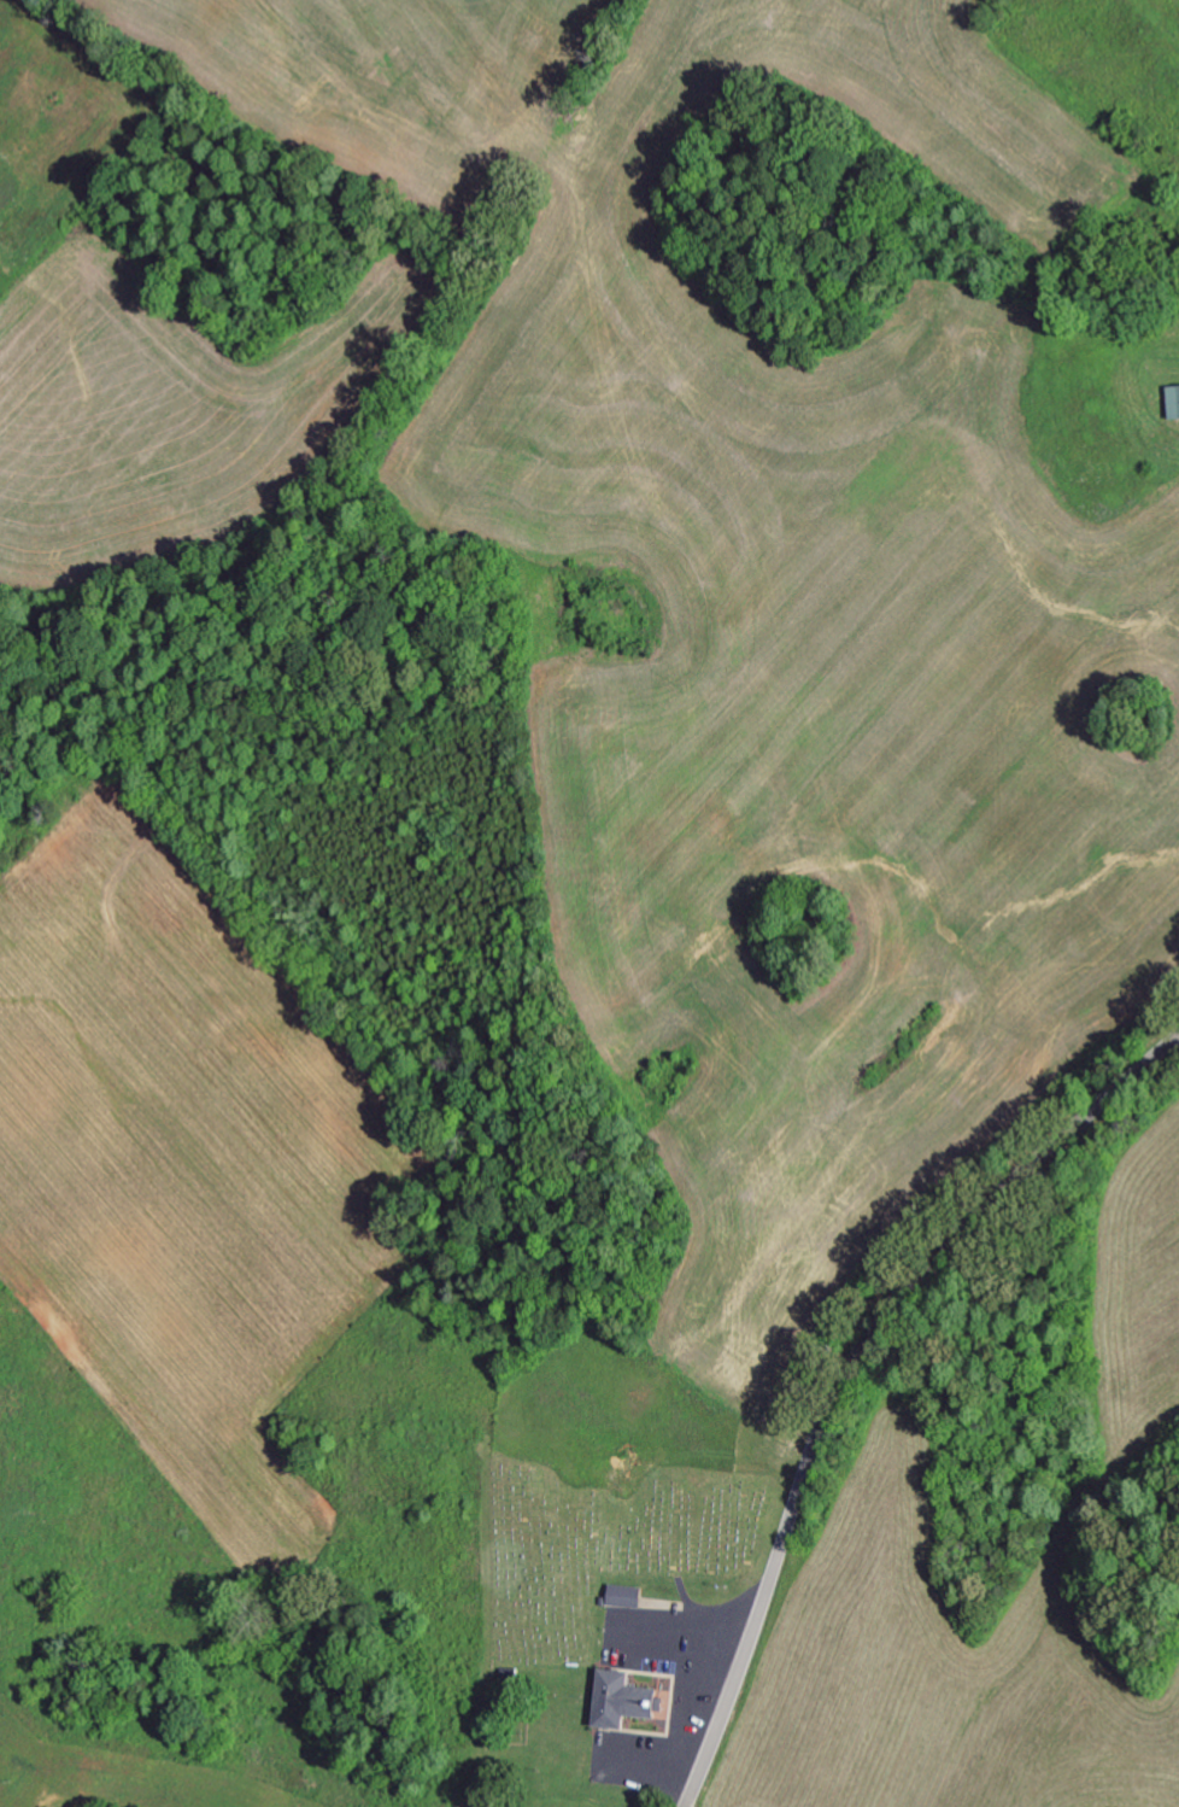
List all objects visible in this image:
building: (1177, 400)
road: (850, 1368)
building: (630, 1596)

